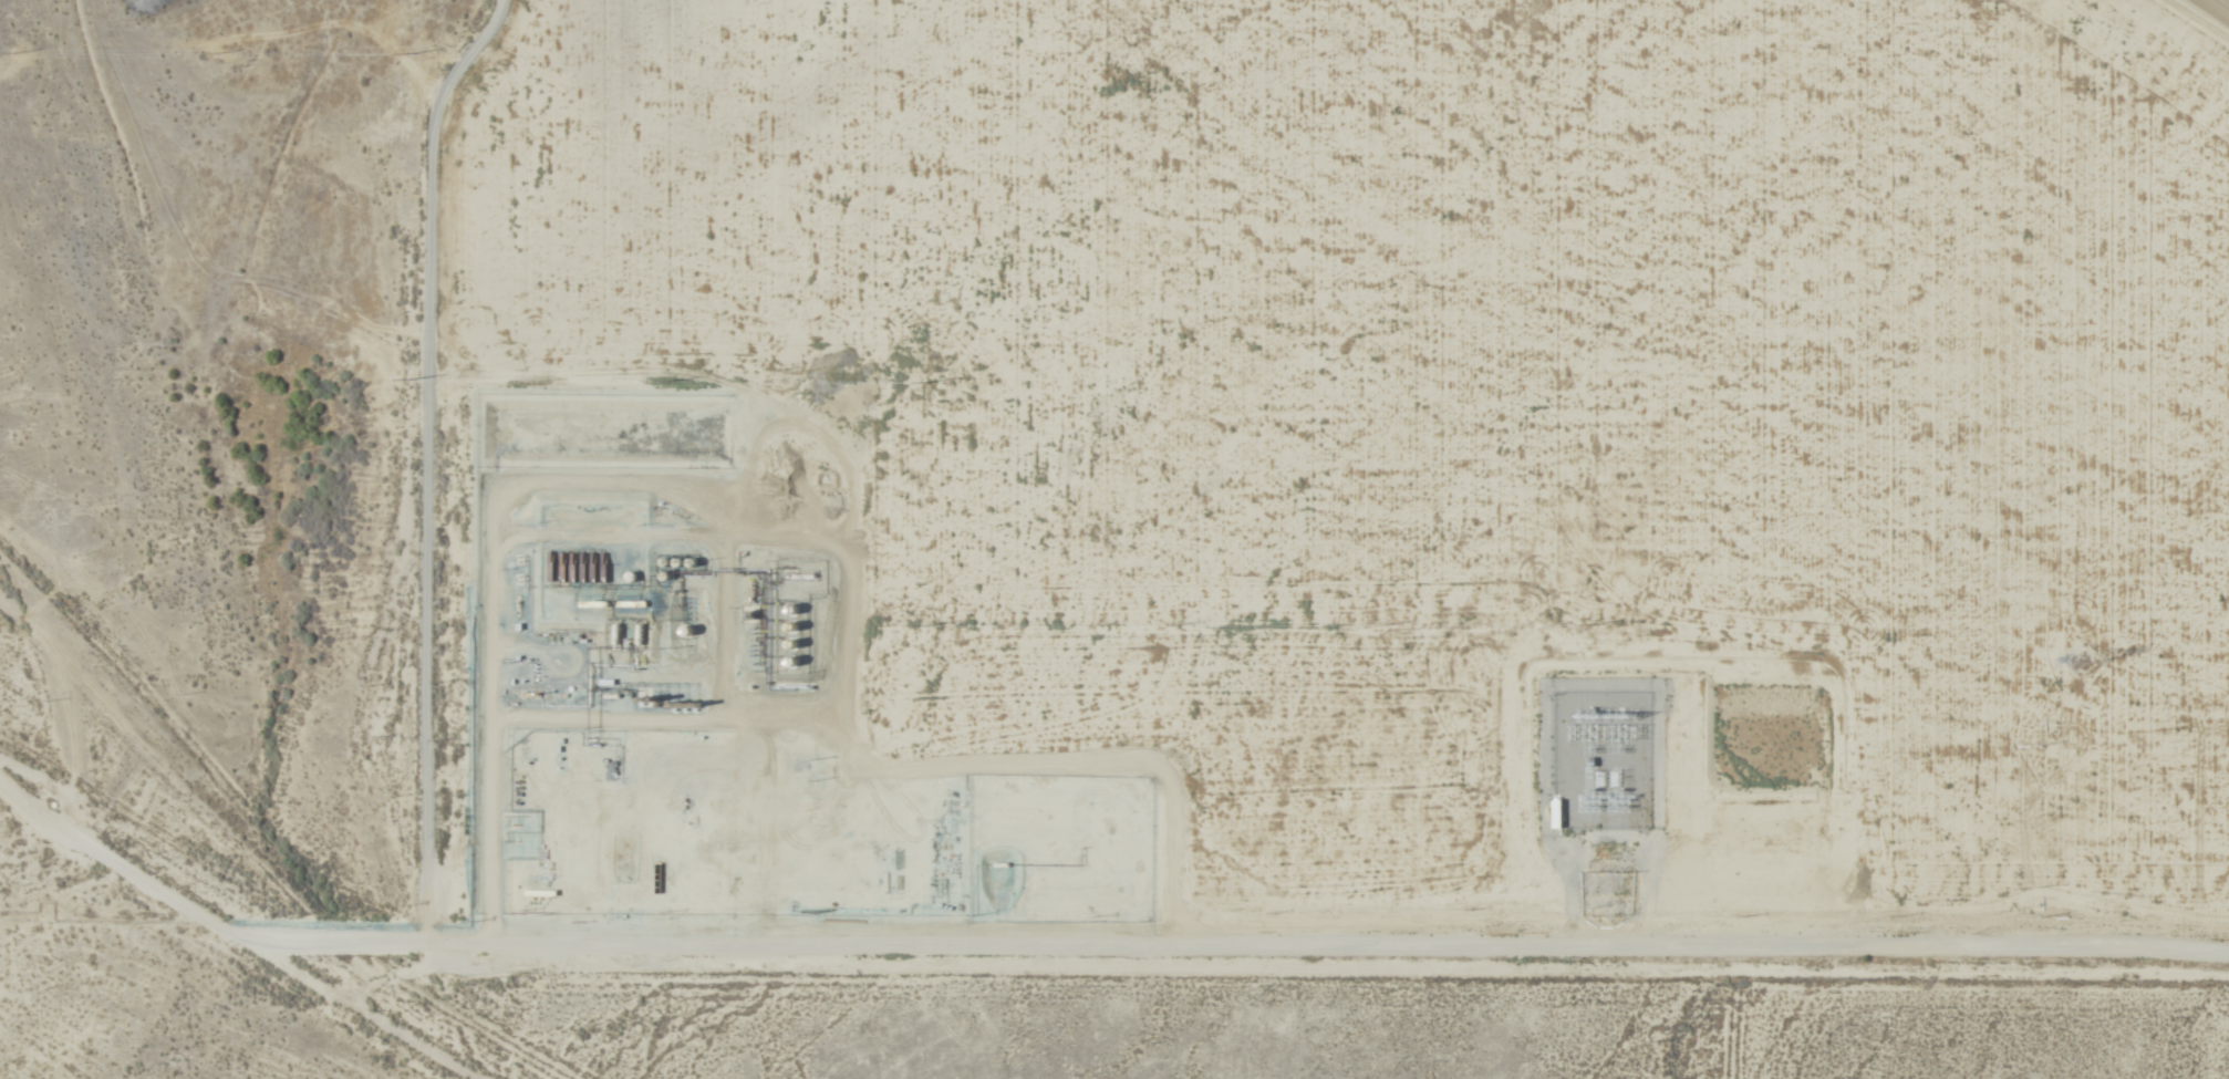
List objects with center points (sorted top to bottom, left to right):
power tower: (2085, 662)
road: (235, 934)

